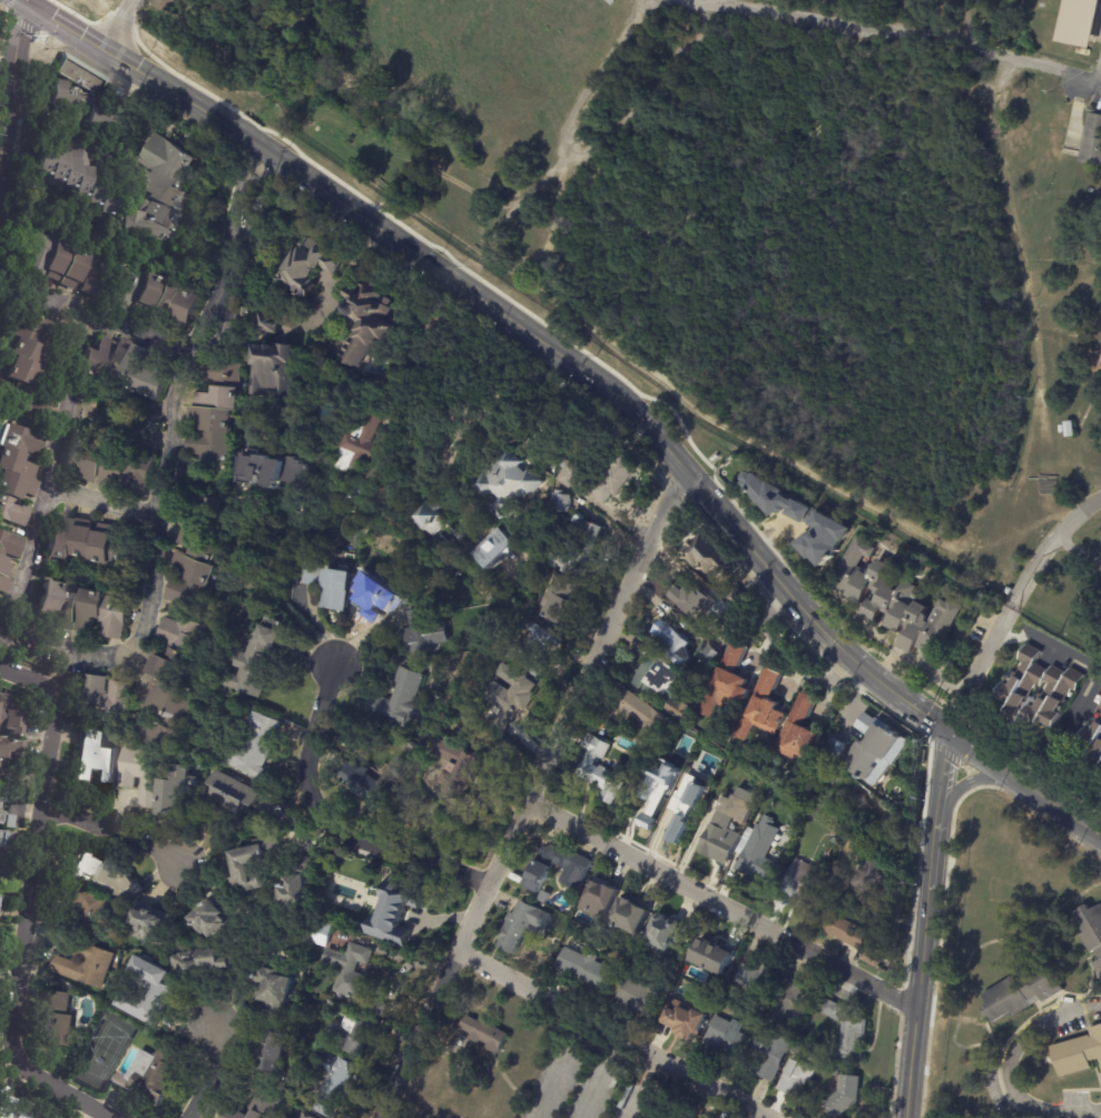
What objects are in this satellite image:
traffic signals: (21, 2)
building: (1079, 22)
road: (120, 27)
road: (902, 29)
building: (79, 76)
road: (10, 77)
building: (85, 107)
building: (1093, 138)
building: (79, 176)
building: (160, 192)
building: (59, 259)
building: (309, 263)
road: (351, 275)
building: (155, 297)
building: (365, 320)
road: (520, 324)
road: (132, 325)
building: (271, 361)
building: (33, 365)
building: (127, 366)
building: (213, 411)
building: (1070, 429)
building: (247, 430)
building: (545, 432)
building: (356, 442)
building: (263, 464)
building: (111, 465)
building: (569, 472)
building: (18, 473)
building: (306, 474)
building: (350, 477)
building: (616, 477)
building: (508, 483)
building: (358, 489)
building: (380, 496)
road: (96, 498)
building: (562, 500)
road: (611, 511)
building: (429, 516)
building: (579, 517)
building: (802, 520)
building: (94, 543)
building: (499, 546)
building: (579, 550)
road: (1078, 551)
building: (195, 555)
building: (708, 555)
building: (8, 558)
building: (314, 571)
building: (336, 587)
building: (737, 597)
building: (694, 598)
building: (897, 600)
building: (557, 605)
road: (1012, 609)
building: (85, 610)
road: (144, 612)
building: (727, 616)
building: (695, 628)
building: (425, 631)
road: (884, 638)
building: (675, 643)
building: (535, 646)
road: (1050, 647)
building: (709, 653)
road: (786, 658)
building: (259, 663)
road: (933, 671)
building: (656, 675)
road: (29, 677)
building: (729, 684)
building: (174, 687)
building: (1034, 690)
building: (107, 698)
building: (514, 699)
building: (402, 700)
building: (766, 707)
building: (682, 708)
building: (11, 715)
building: (646, 715)
building: (803, 730)
traffic signals: (951, 737)
building: (1093, 742)
building: (258, 746)
building: (869, 748)
building: (832, 752)
building: (95, 755)
building: (11, 757)
building: (461, 766)
building: (604, 768)
building: (141, 773)
road: (970, 781)
building: (373, 783)
building: (659, 786)
road: (1024, 786)
building: (179, 790)
road: (532, 793)
building: (233, 797)
building: (771, 797)
building: (688, 801)
building: (627, 802)
building: (1, 806)
building: (273, 810)
building: (765, 815)
road: (326, 821)
building: (866, 821)
building: (731, 822)
road: (111, 832)
building: (6, 837)
building: (837, 842)
building: (757, 860)
building: (256, 862)
building: (578, 869)
building: (105, 875)
building: (875, 875)
building: (839, 880)
building: (806, 882)
building: (299, 886)
building: (601, 900)
road: (722, 903)
building: (90, 911)
building: (395, 912)
building: (630, 915)
building: (217, 918)
building: (155, 923)
building: (523, 925)
road: (925, 926)
building: (1091, 930)
building: (668, 931)
road: (22, 934)
building: (321, 934)
building: (854, 936)
building: (714, 954)
building: (206, 961)
building: (88, 964)
building: (586, 968)
building: (350, 969)
building: (320, 973)
building: (757, 981)
building: (1021, 992)
building: (277, 993)
building: (150, 996)
building: (636, 997)
building: (792, 1006)
building: (375, 1007)
building: (834, 1010)
building: (59, 1019)
building: (686, 1021)
building: (352, 1032)
building: (485, 1033)
road: (613, 1034)
building: (726, 1038)
building: (853, 1039)
building: (273, 1049)
road: (609, 1051)
building: (1078, 1053)
building: (770, 1055)
road: (1005, 1069)
building: (837, 1072)
building: (154, 1075)
road: (205, 1076)
road: (552, 1076)
building: (797, 1079)
building: (332, 1081)
road: (592, 1085)
road: (638, 1086)
building: (846, 1095)
building: (254, 1107)
building: (10, 1114)
building: (302, 1115)
building: (709, 1117)

